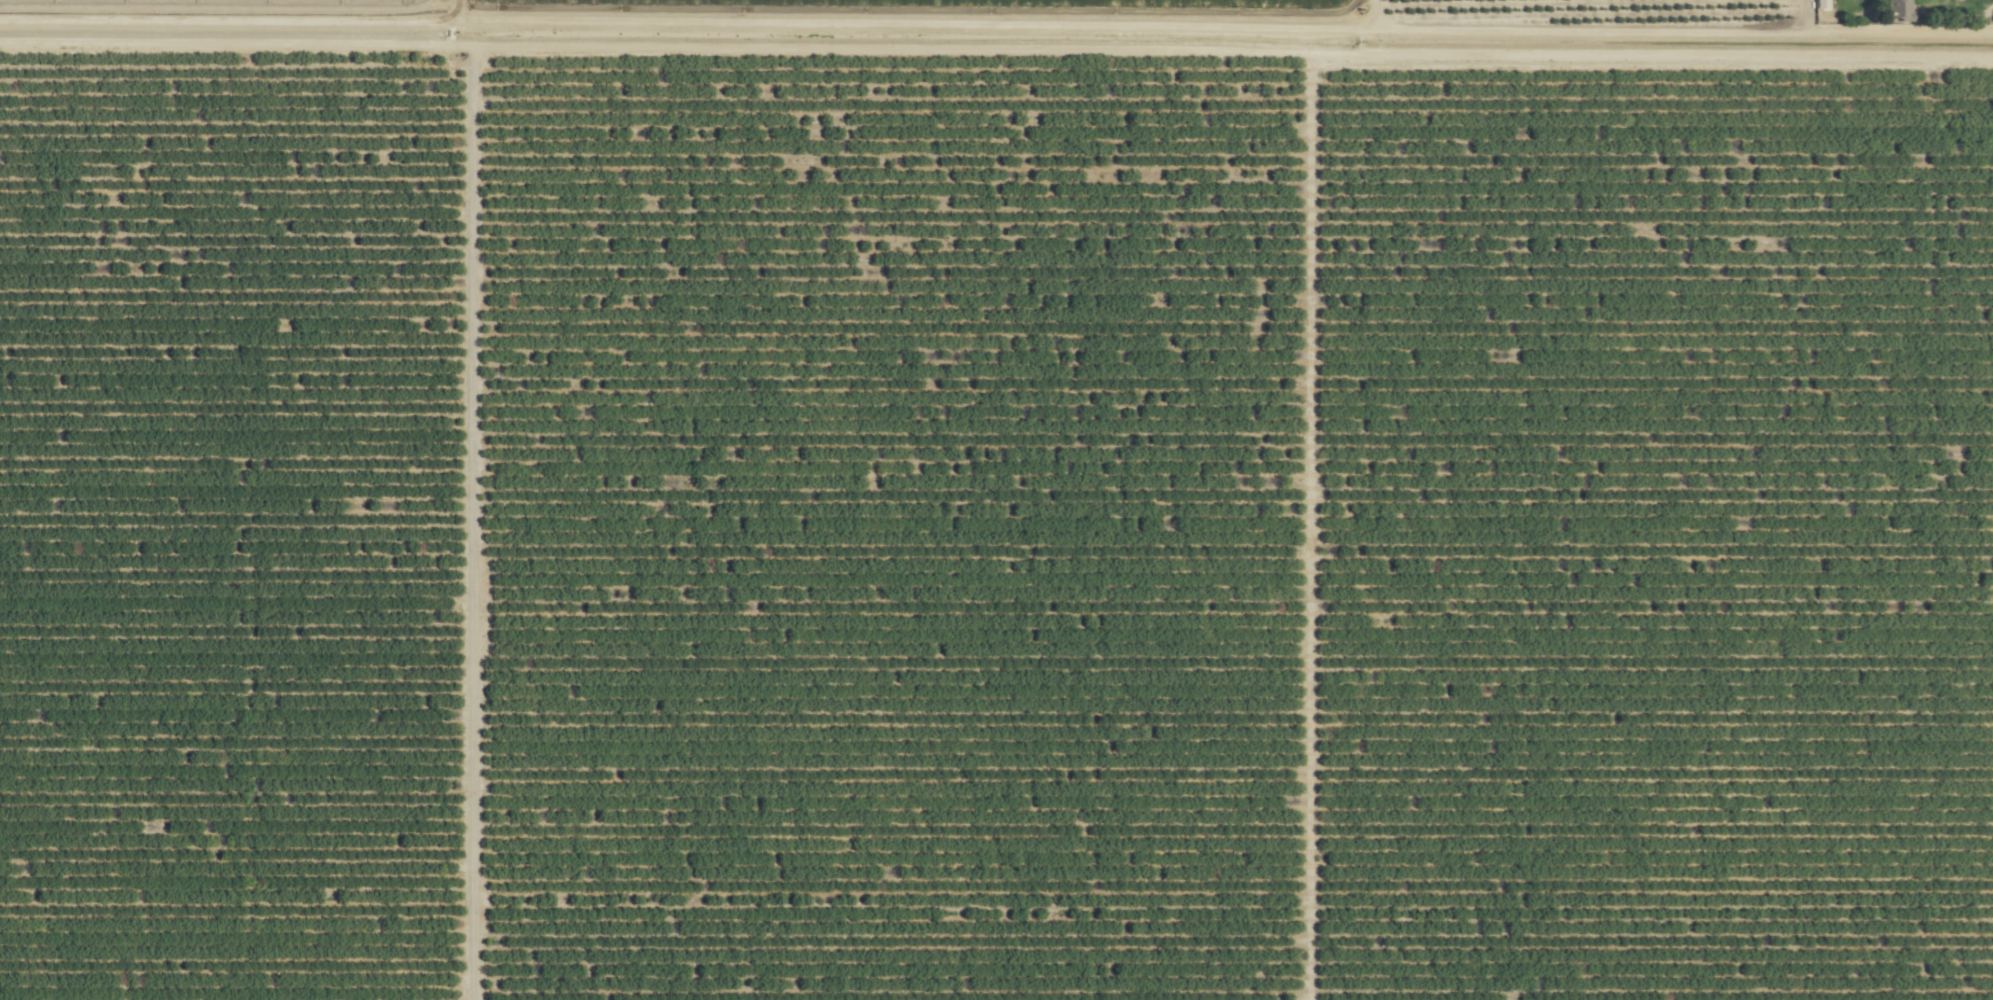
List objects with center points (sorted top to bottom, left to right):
building: (1819, 4)
building: (1898, 8)
crop: (996, 500)

